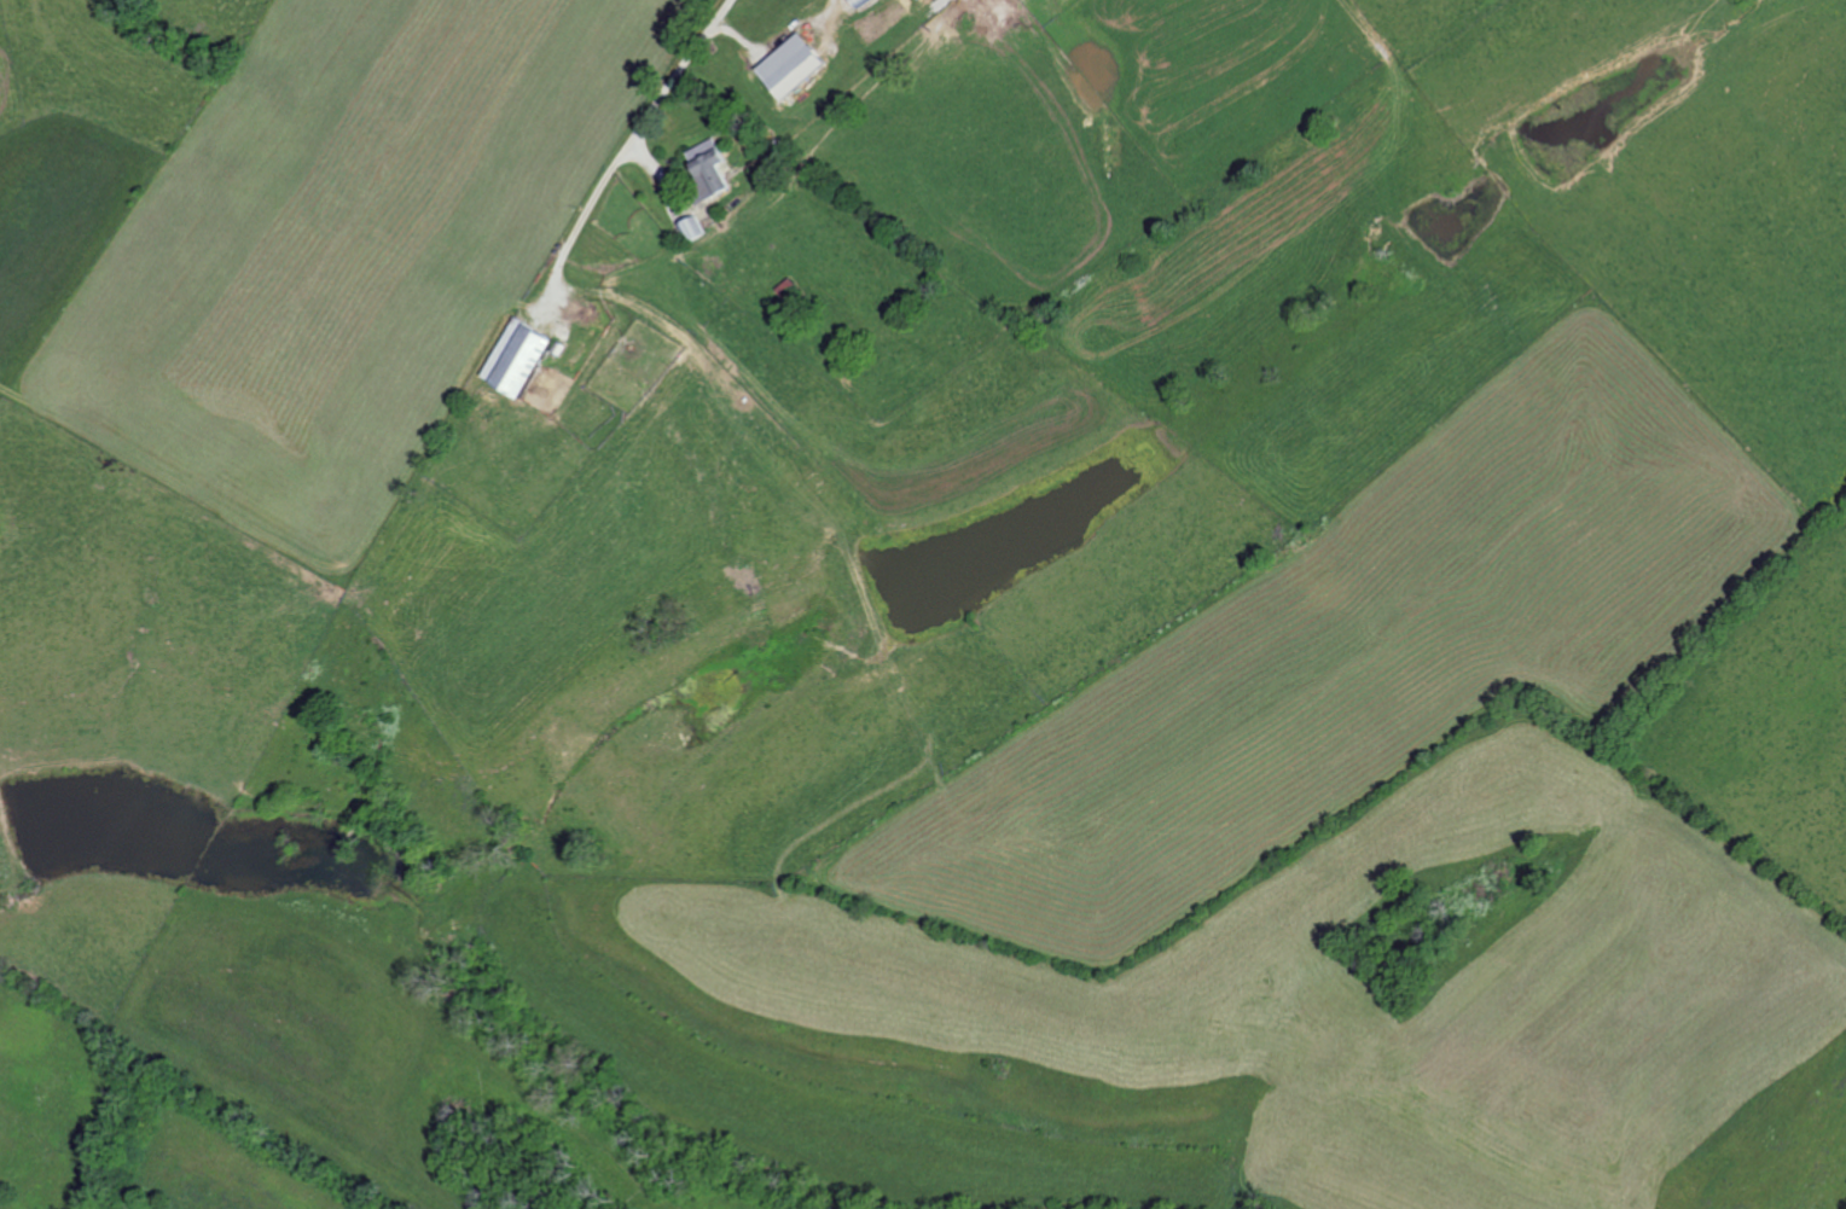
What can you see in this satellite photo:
building: (858, 2)
building: (790, 65)
road: (622, 138)
building: (709, 162)
building: (516, 356)

